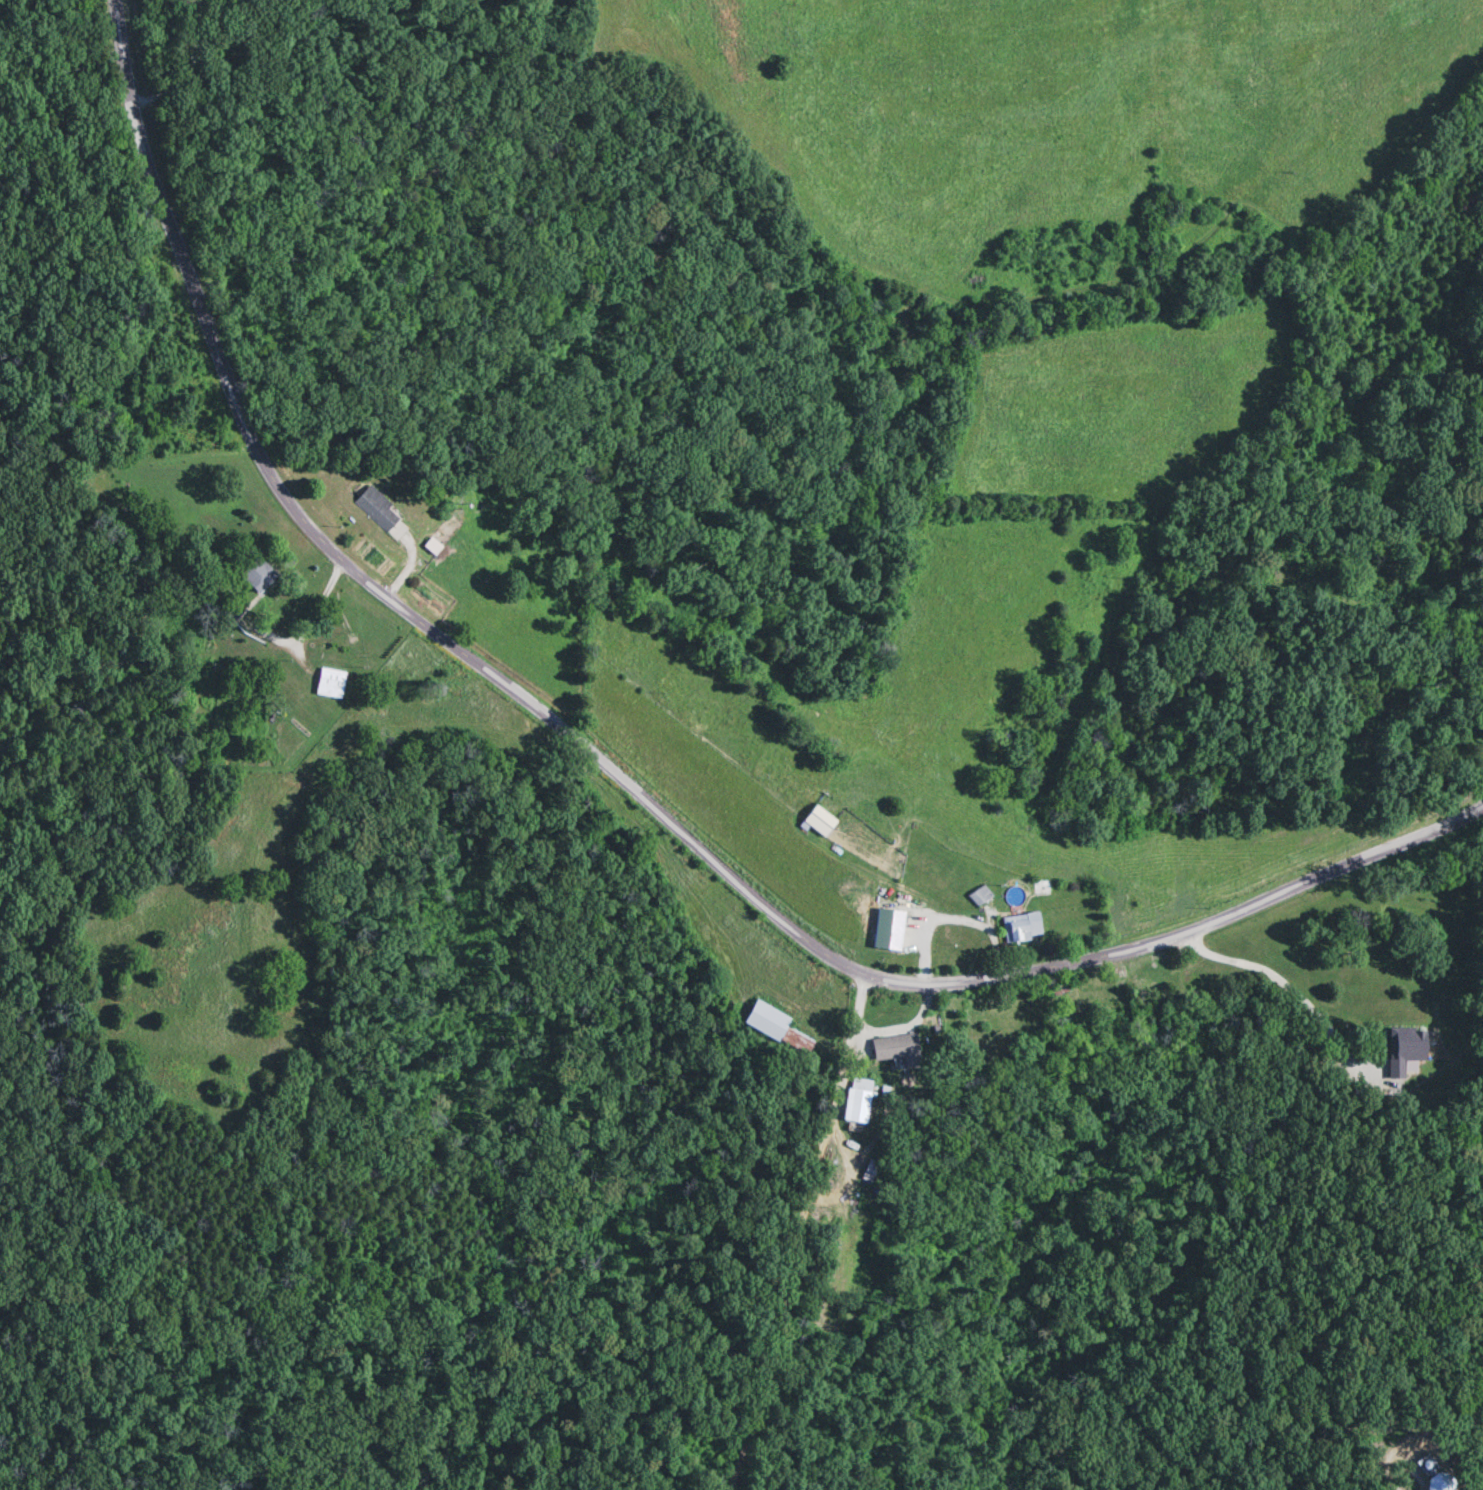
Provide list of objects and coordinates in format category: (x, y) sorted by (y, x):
building: (379, 509)
building: (229, 608)
building: (332, 684)
road: (622, 788)
building: (822, 822)
building: (1044, 888)
building: (981, 897)
building: (1025, 927)
building: (778, 1030)
building: (900, 1049)
building: (1409, 1049)
building: (860, 1100)
road: (803, 1235)
road: (1393, 1489)

